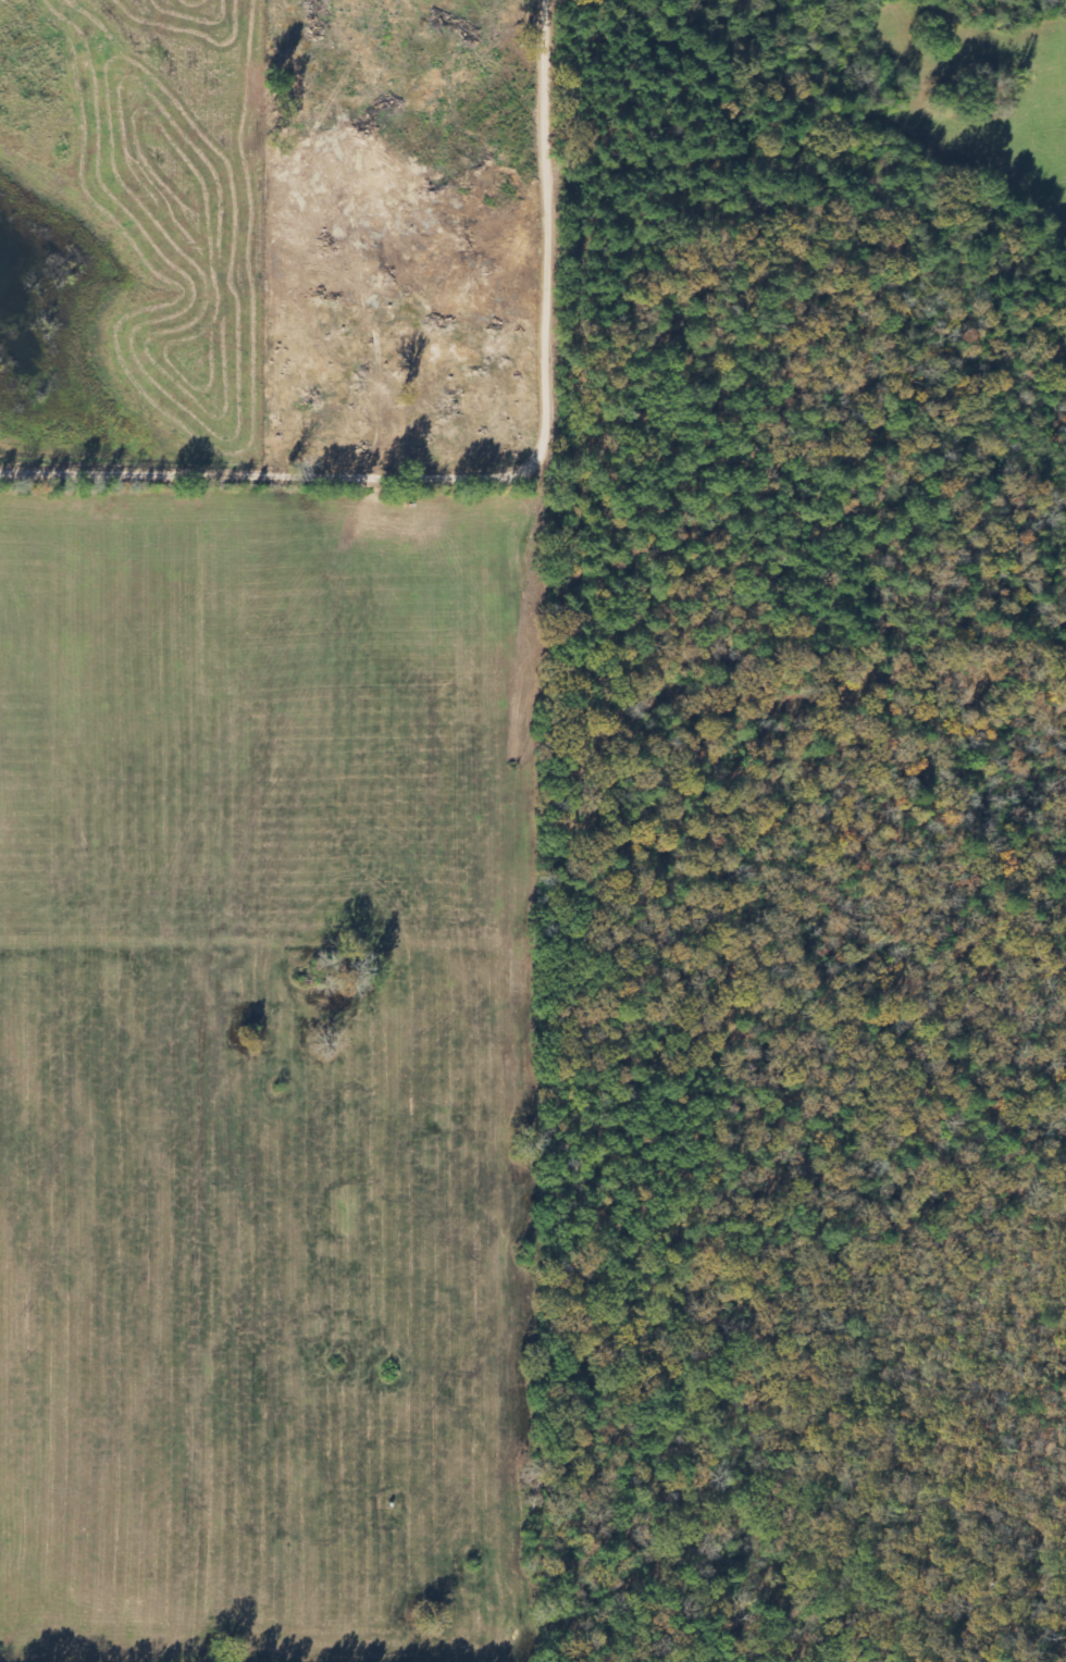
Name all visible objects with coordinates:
road: (508, 477)

